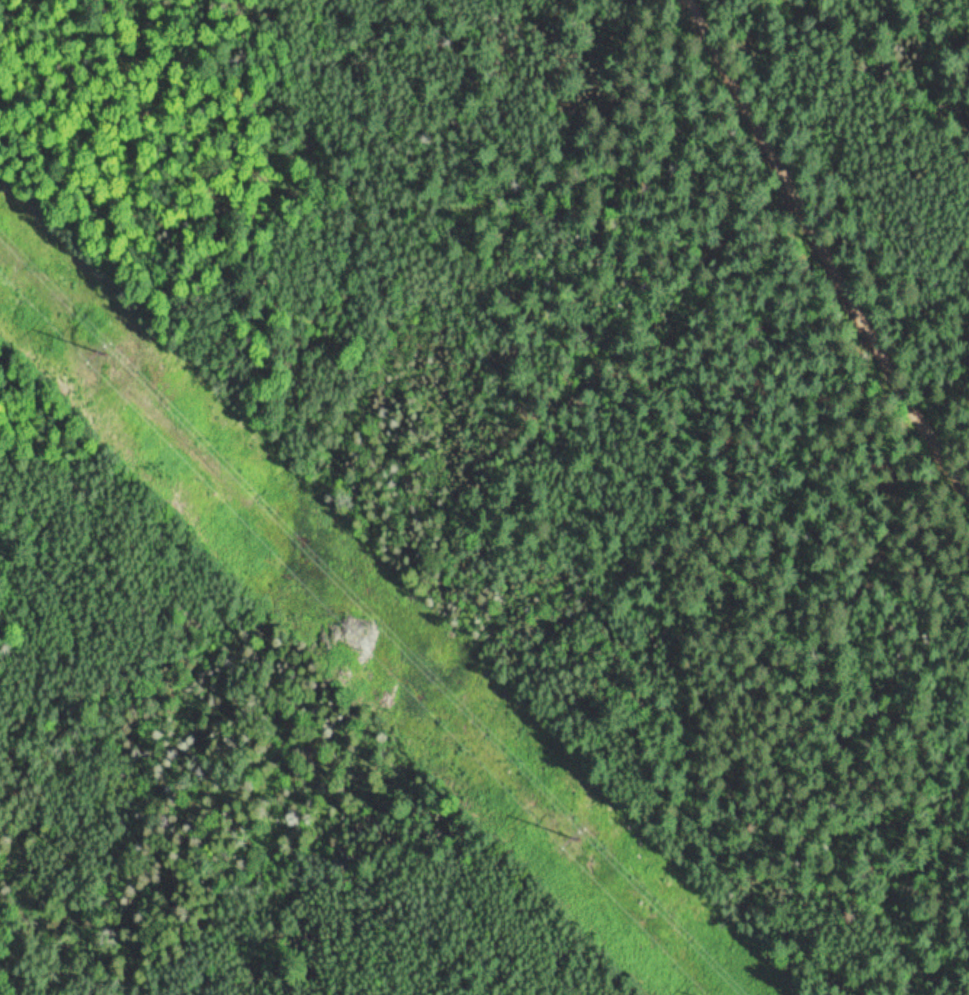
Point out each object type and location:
road: (819, 242)
power tower: (100, 353)
power tower: (584, 840)

